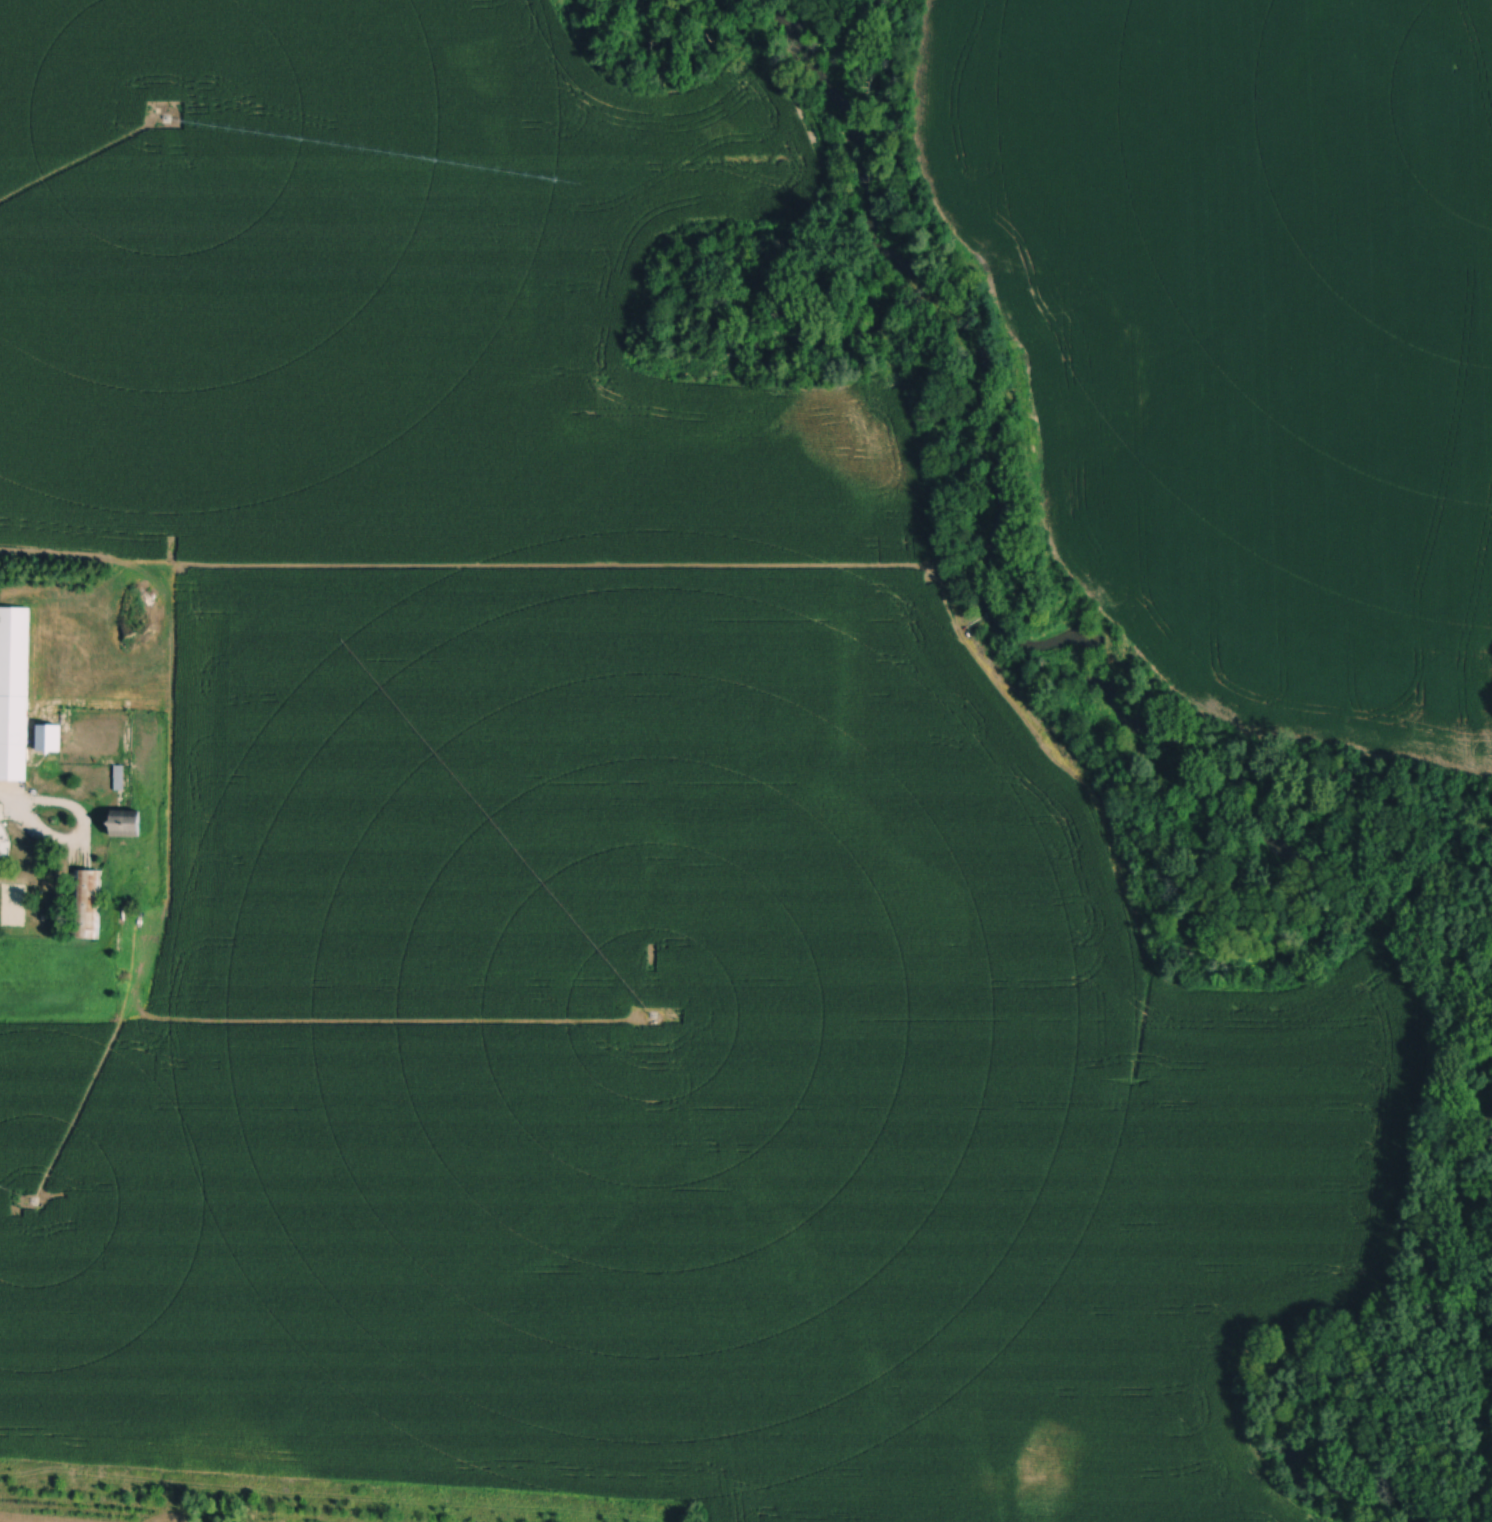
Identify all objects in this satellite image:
river: (979, 552)
building: (14, 694)
building: (50, 740)
road: (7, 811)
building: (125, 825)
building: (4, 843)
building: (87, 906)
river: (1421, 1222)
river: (1483, 1451)

